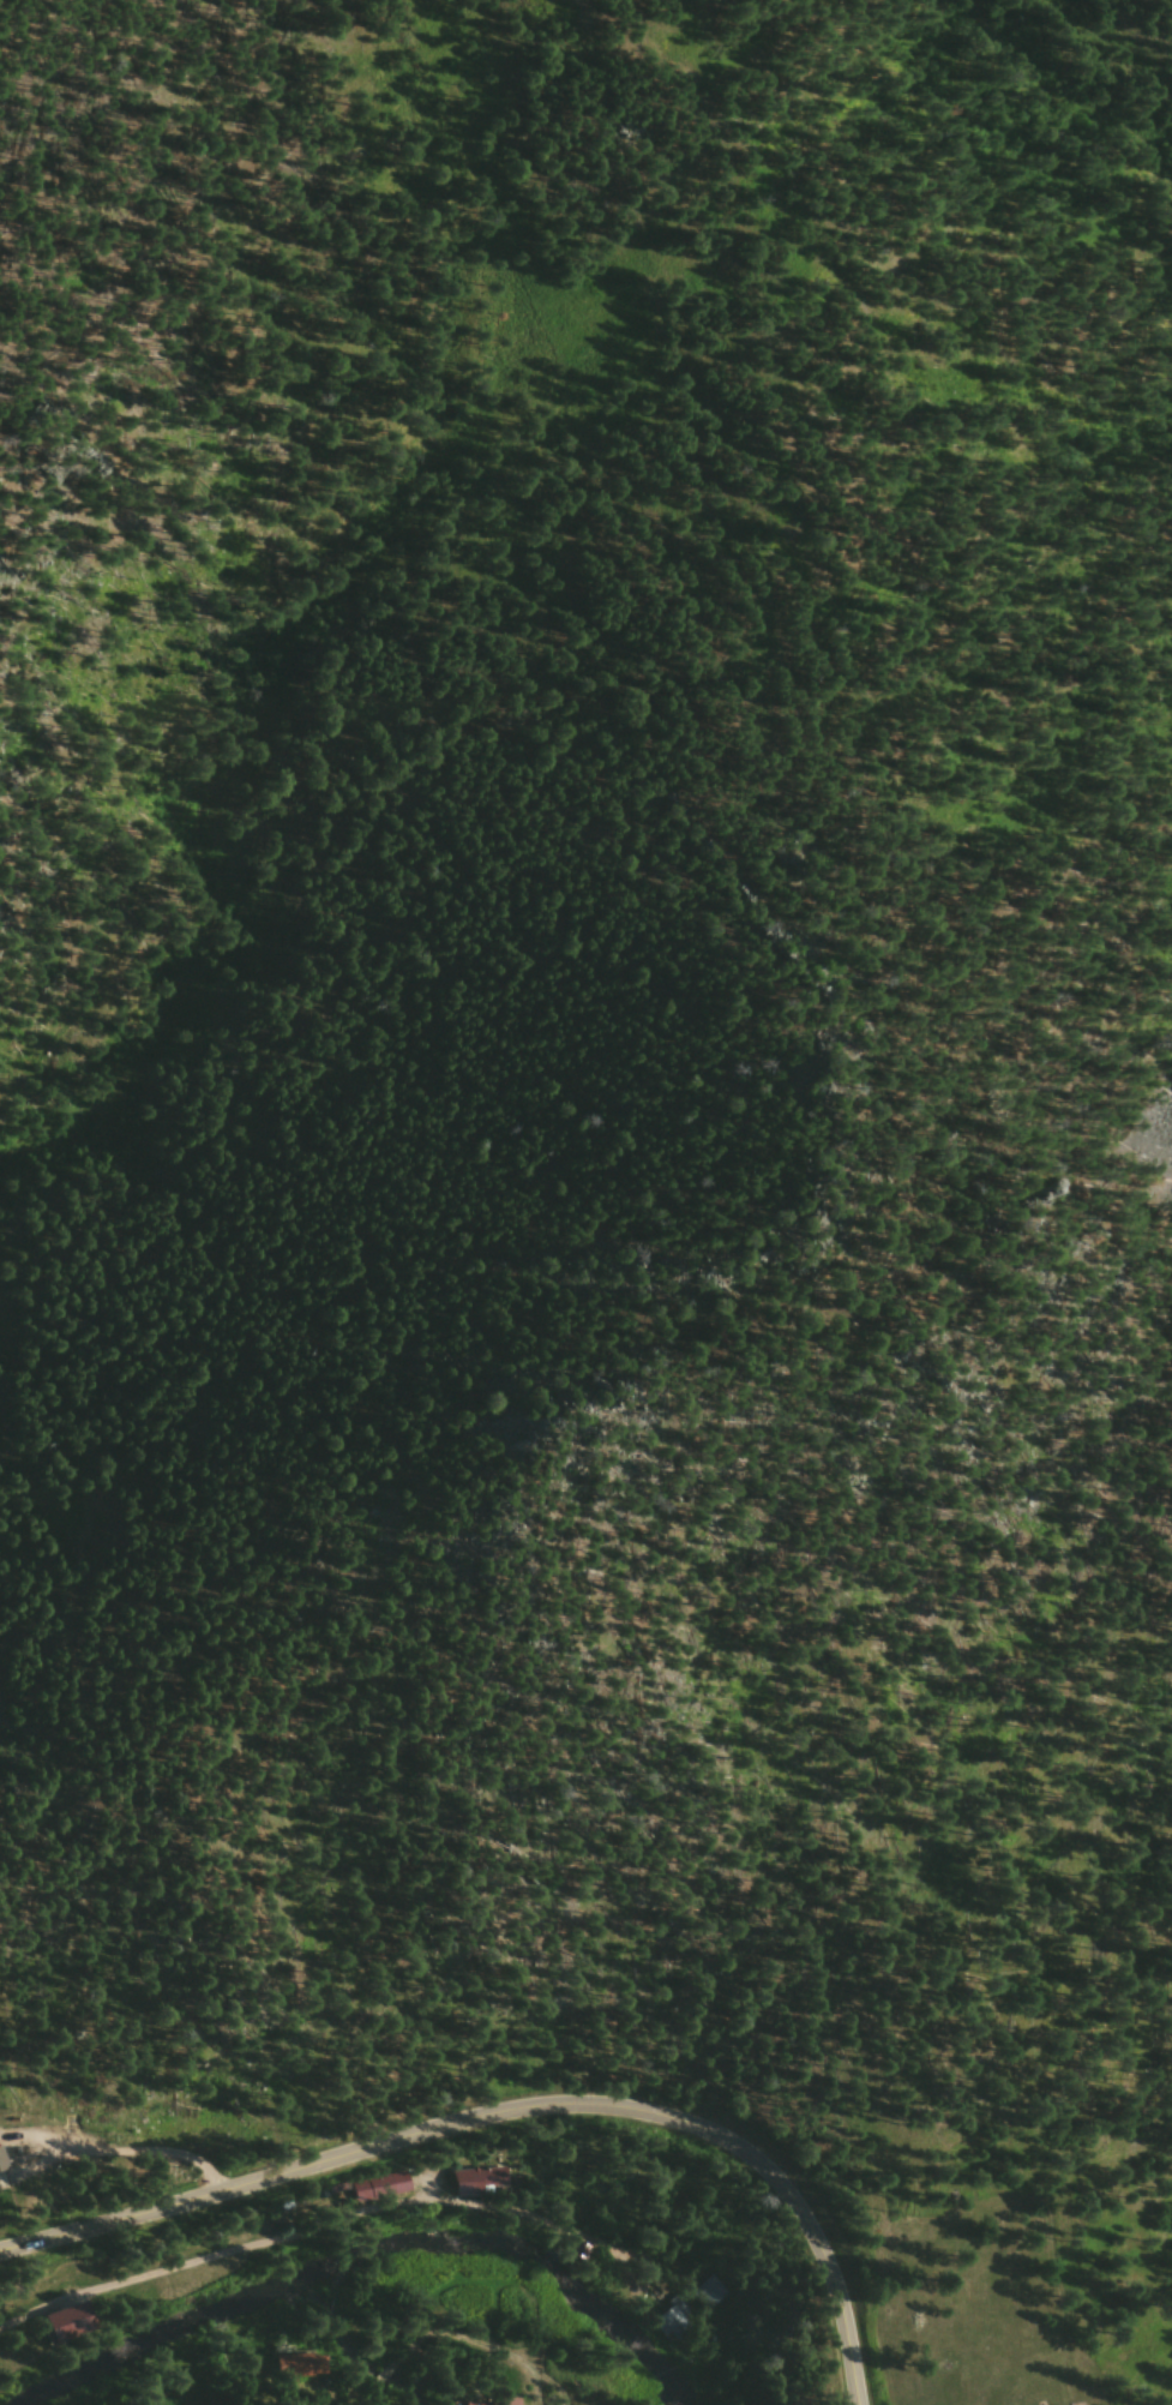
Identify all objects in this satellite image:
road: (507, 2122)
road: (136, 2160)
building: (5, 2177)
building: (482, 2193)
building: (380, 2197)
road: (325, 2233)
building: (696, 2291)
building: (657, 2327)
building: (72, 2328)
building: (675, 2334)
road: (451, 2358)
building: (297, 2374)

